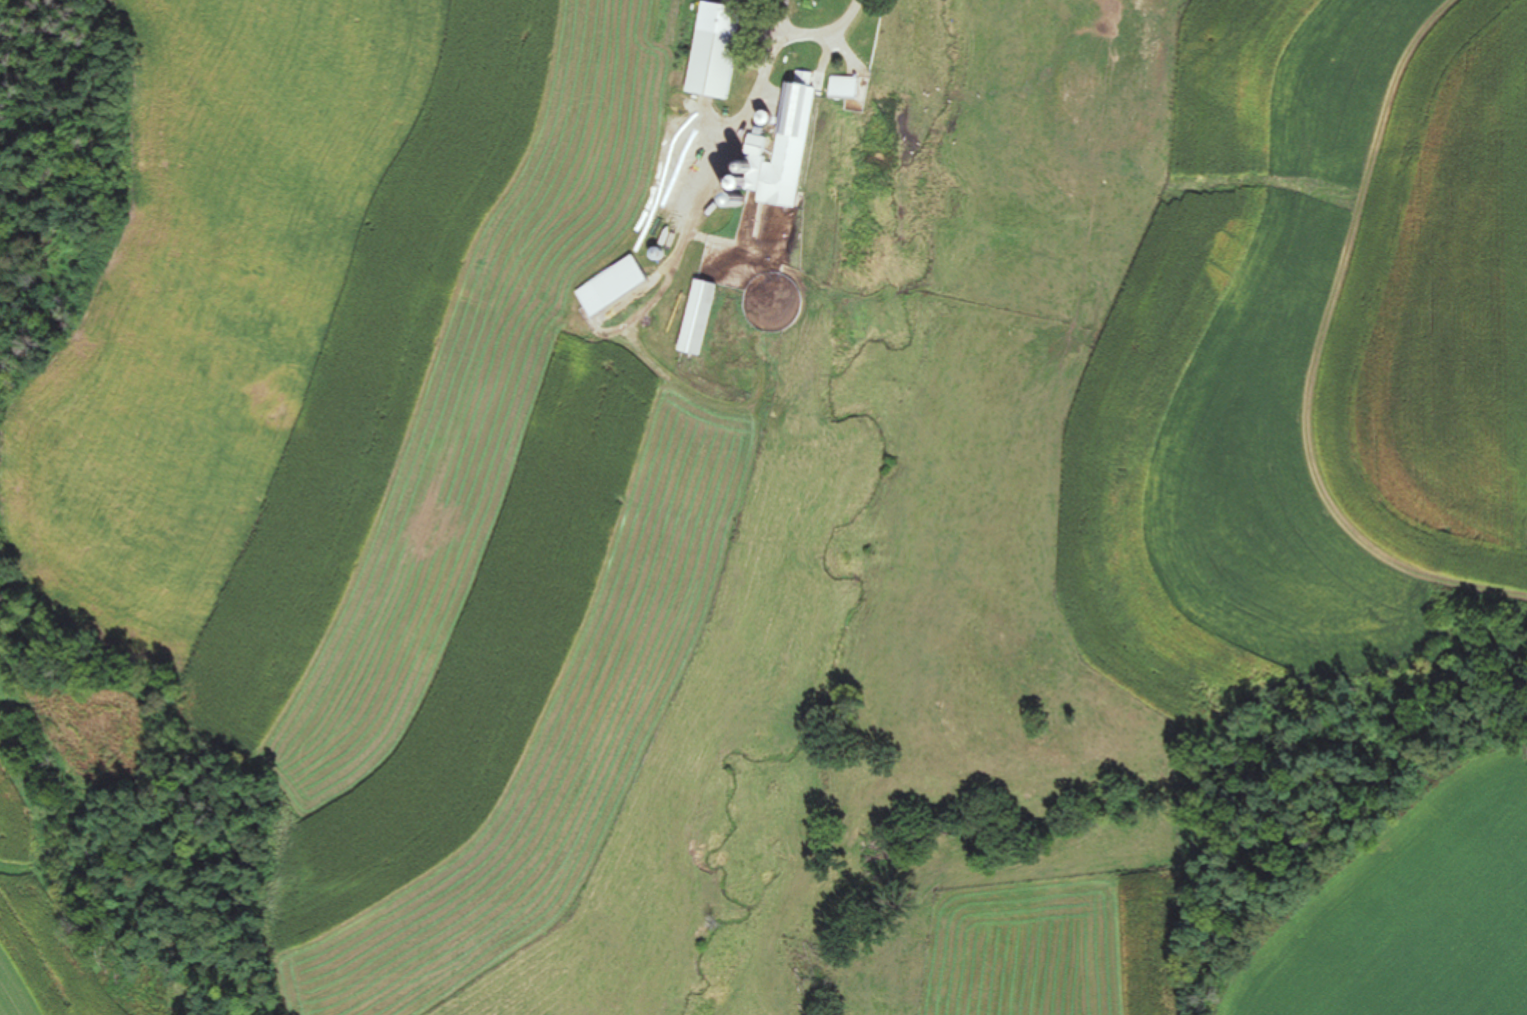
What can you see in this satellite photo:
road: (822, 40)
building: (1118, 57)
building: (708, 66)
building: (838, 88)
building: (760, 151)
road: (677, 179)
building: (612, 277)
building: (693, 318)

